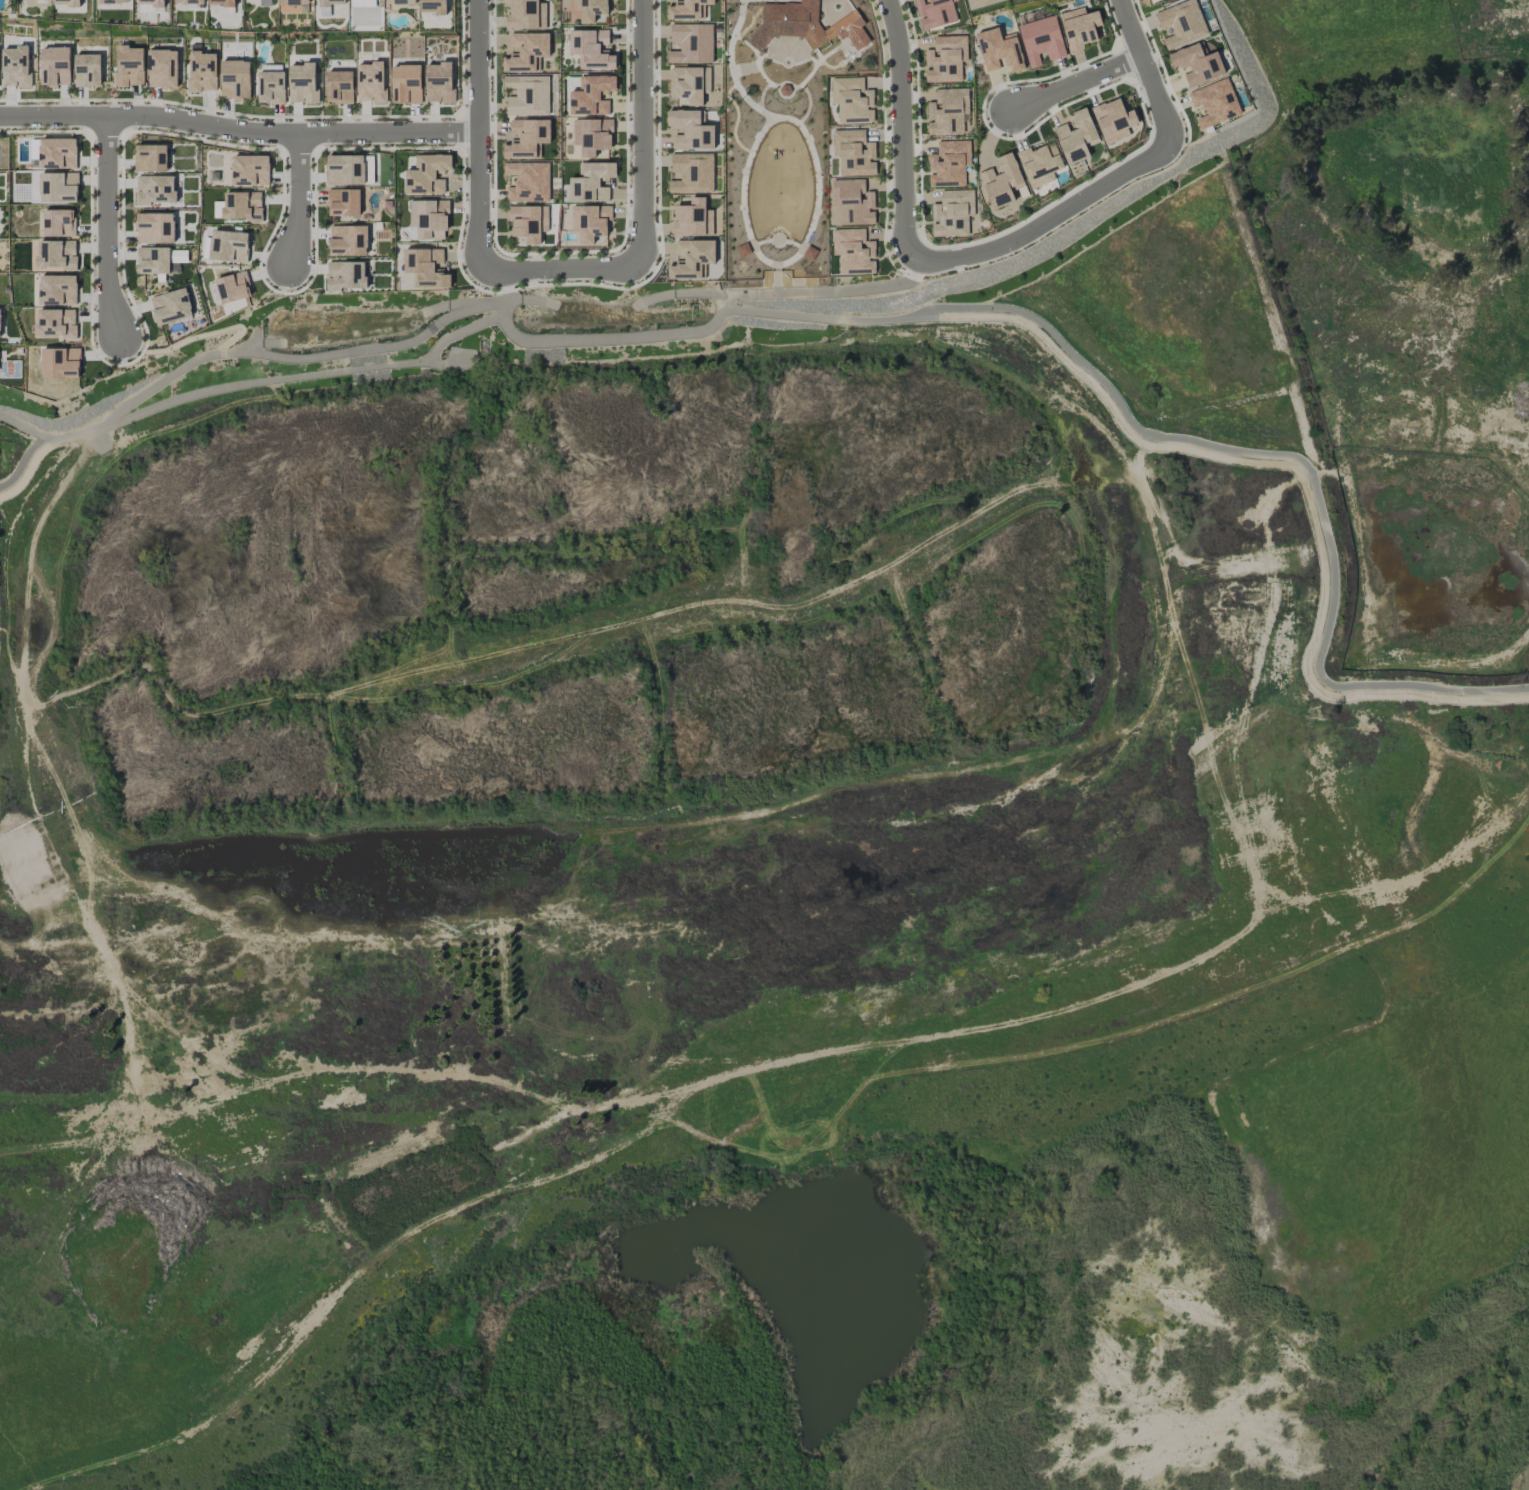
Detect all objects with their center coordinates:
building: (113, 1)
building: (189, 1)
building: (152, 2)
building: (222, 2)
building: (294, 2)
building: (330, 2)
building: (400, 2)
building: (975, 2)
building: (67, 3)
building: (267, 3)
building: (362, 3)
building: (433, 6)
building: (590, 9)
building: (686, 9)
building: (935, 12)
building: (526, 15)
building: (806, 22)
building: (1181, 23)
building: (1079, 28)
building: (1041, 40)
building: (691, 43)
building: (592, 49)
building: (999, 50)
building: (526, 52)
building: (946, 59)
building: (1196, 64)
building: (129, 66)
building: (15, 67)
building: (54, 67)
road: (1144, 67)
building: (162, 68)
building: (87, 70)
building: (202, 71)
building: (235, 79)
road: (1077, 81)
building: (370, 82)
building: (439, 83)
building: (302, 84)
building: (405, 84)
building: (688, 85)
building: (271, 87)
building: (339, 87)
building: (592, 95)
building: (852, 100)
building: (1215, 103)
building: (948, 112)
building: (1113, 120)
road: (900, 125)
road: (641, 129)
building: (691, 130)
road: (238, 133)
road: (478, 134)
building: (592, 135)
building: (1076, 137)
building: (526, 139)
building: (57, 153)
building: (853, 153)
building: (150, 158)
building: (949, 164)
building: (1040, 164)
building: (250, 170)
building: (345, 170)
building: (692, 173)
building: (427, 174)
building: (592, 181)
building: (1003, 181)
building: (528, 182)
building: (59, 188)
building: (155, 190)
road: (298, 196)
building: (343, 202)
building: (853, 202)
building: (242, 206)
building: (952, 213)
building: (429, 219)
building: (692, 219)
road: (1046, 220)
building: (590, 222)
building: (528, 223)
building: (155, 228)
road: (108, 231)
building: (348, 240)
building: (229, 246)
building: (853, 252)
building: (56, 254)
building: (692, 259)
building: (153, 260)
building: (426, 268)
road: (562, 271)
building: (346, 275)
building: (233, 287)
building: (57, 290)
road: (702, 293)
road: (526, 300)
road: (451, 303)
building: (171, 306)
road: (830, 319)
building: (55, 323)
road: (700, 329)
building: (0, 331)
road: (197, 337)
road: (293, 358)
building: (60, 363)
road: (302, 375)
road: (20, 427)
road: (68, 437)
road: (22, 461)
road: (1305, 466)
road: (30, 558)

